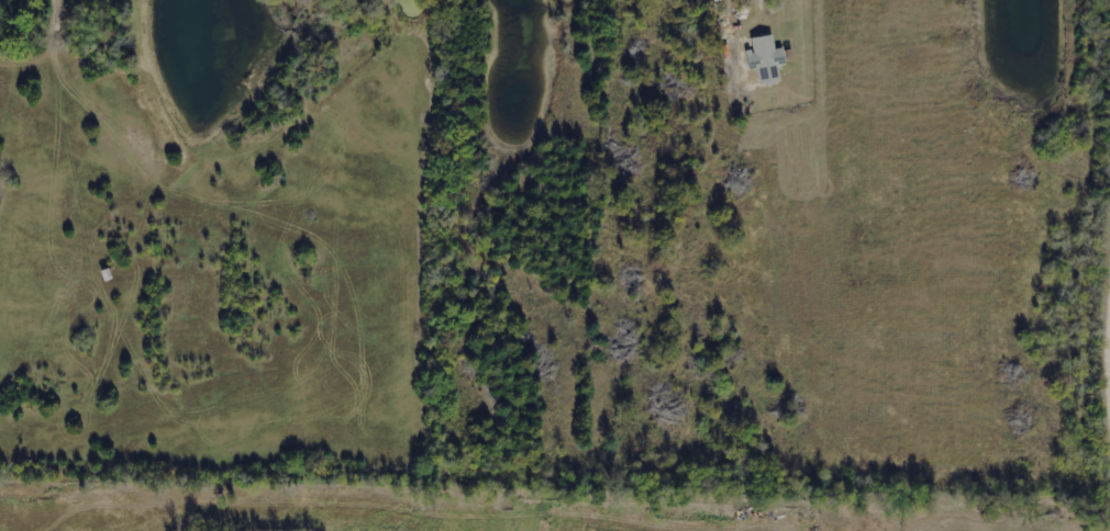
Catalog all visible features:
building: (764, 59)

